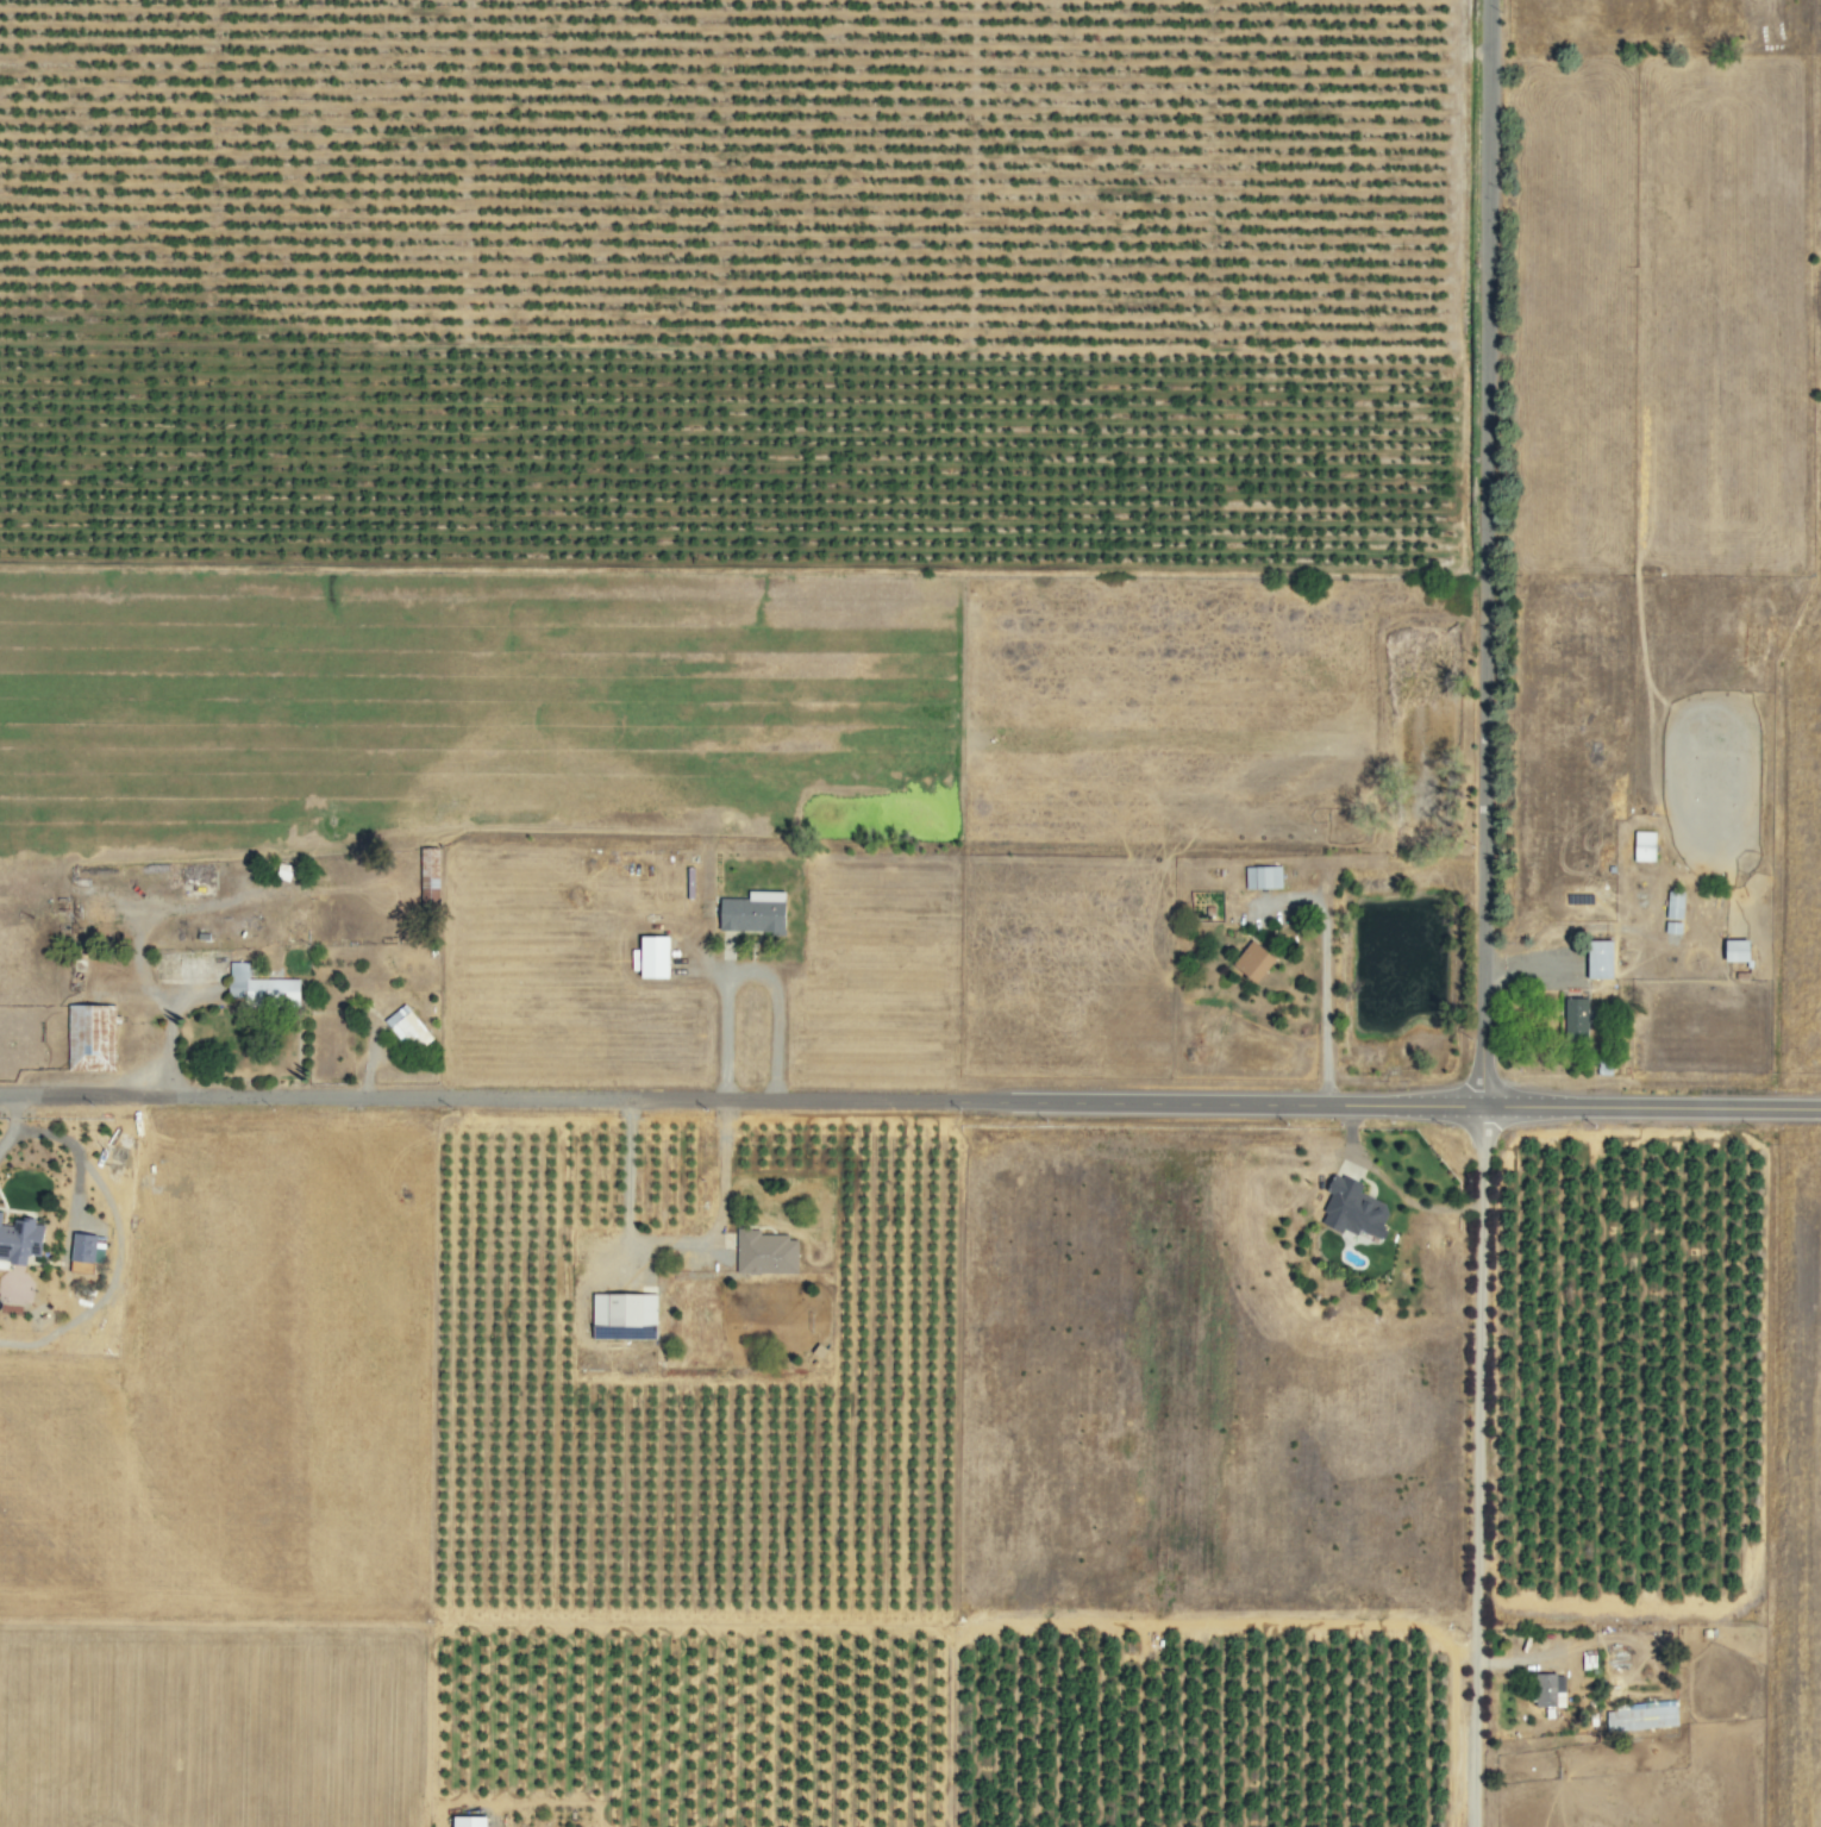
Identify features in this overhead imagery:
building: (1640, 846)
building: (424, 877)
building: (1259, 877)
building: (749, 913)
road: (1479, 913)
building: (1731, 951)
building: (646, 958)
building: (1595, 959)
building: (1247, 963)
road: (745, 969)
road: (1323, 978)
building: (256, 988)
building: (1572, 1019)
building: (405, 1028)
building: (87, 1038)
road: (909, 1101)
building: (1348, 1208)
building: (18, 1239)
road: (667, 1241)
building: (762, 1252)
building: (619, 1315)
building: (1546, 1690)
building: (1639, 1715)
building: (462, 1821)

